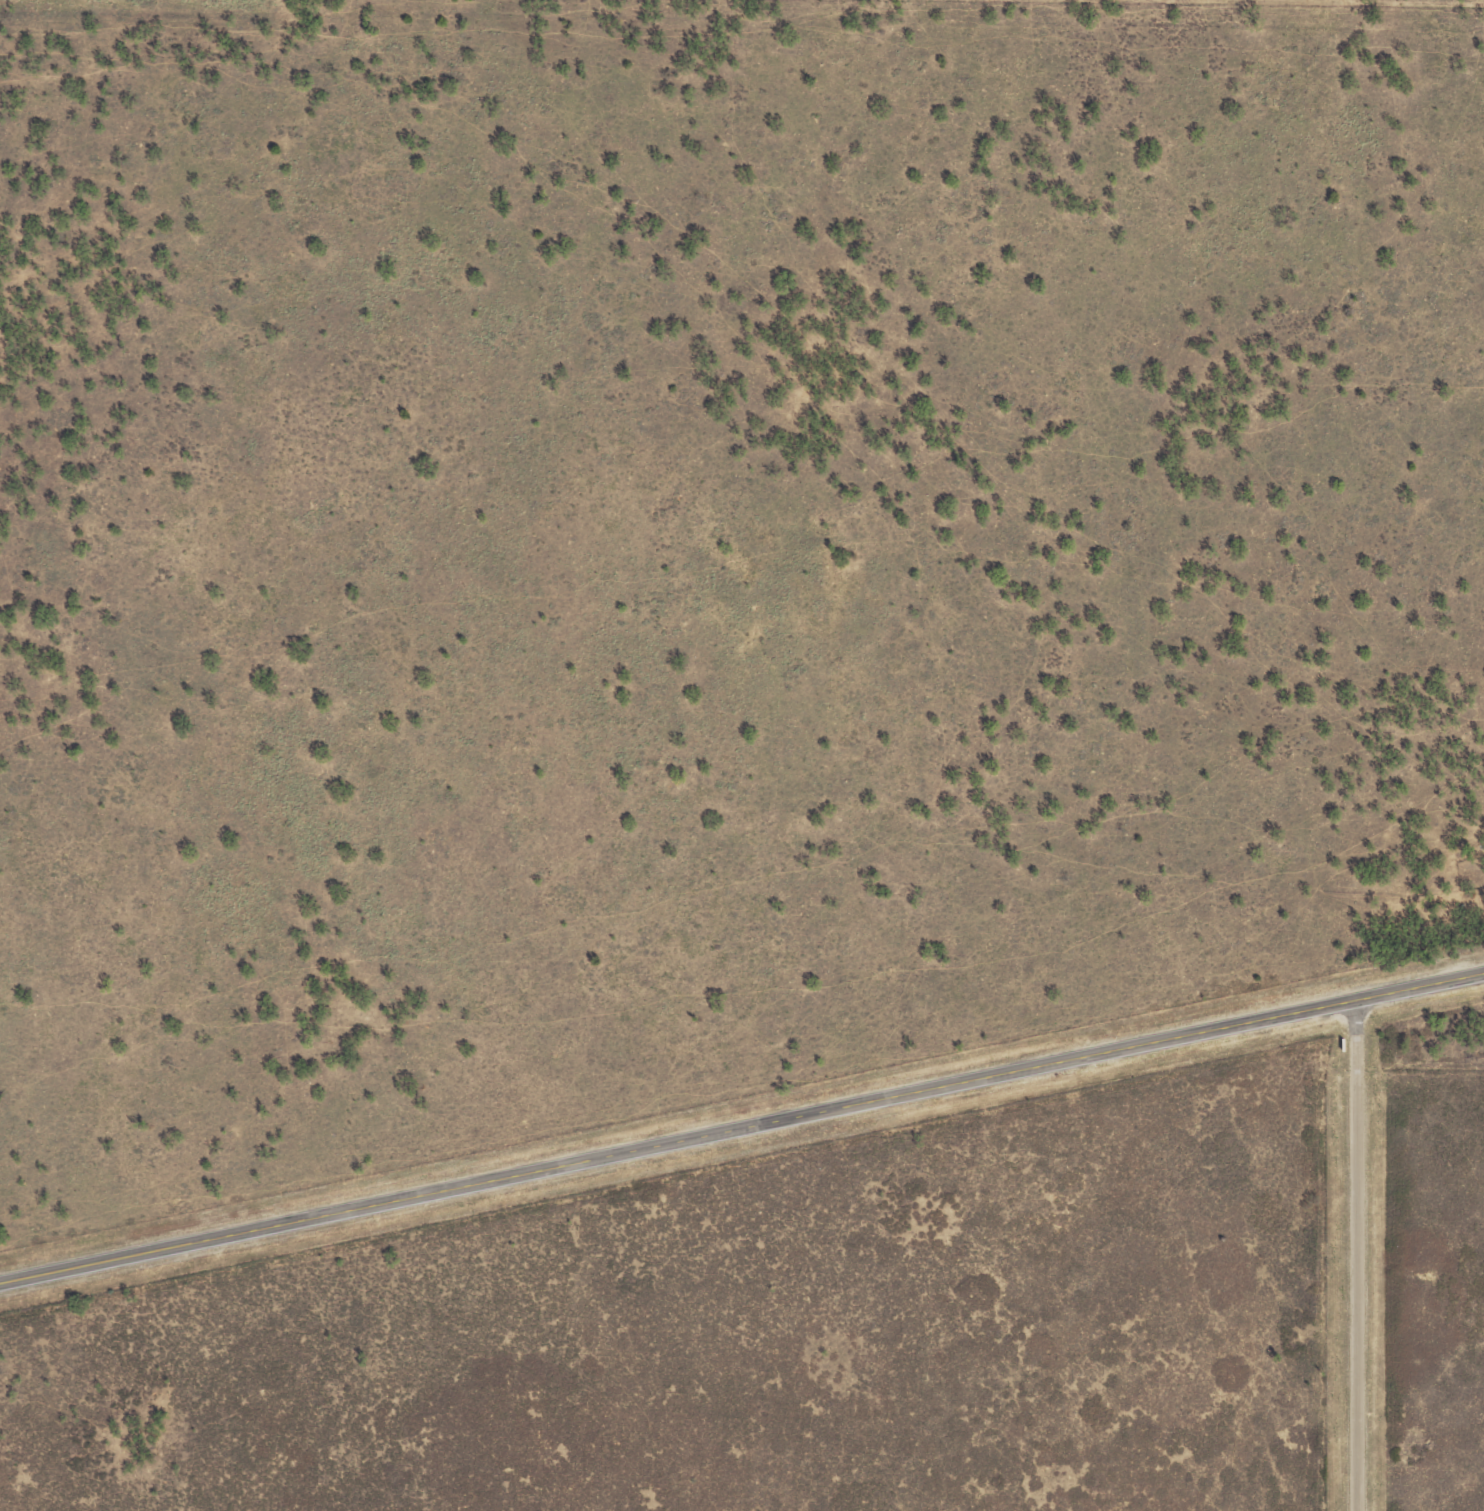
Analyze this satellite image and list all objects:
road: (742, 1135)
road: (1353, 1261)
airport: (1408, 1290)

